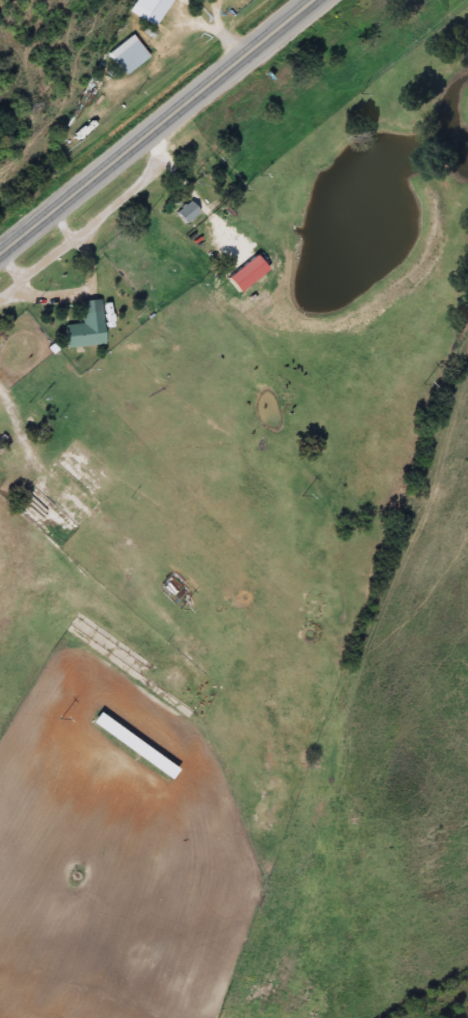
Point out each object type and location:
building: (148, 7)
building: (123, 52)
road: (156, 124)
building: (182, 211)
building: (80, 330)
building: (128, 745)

